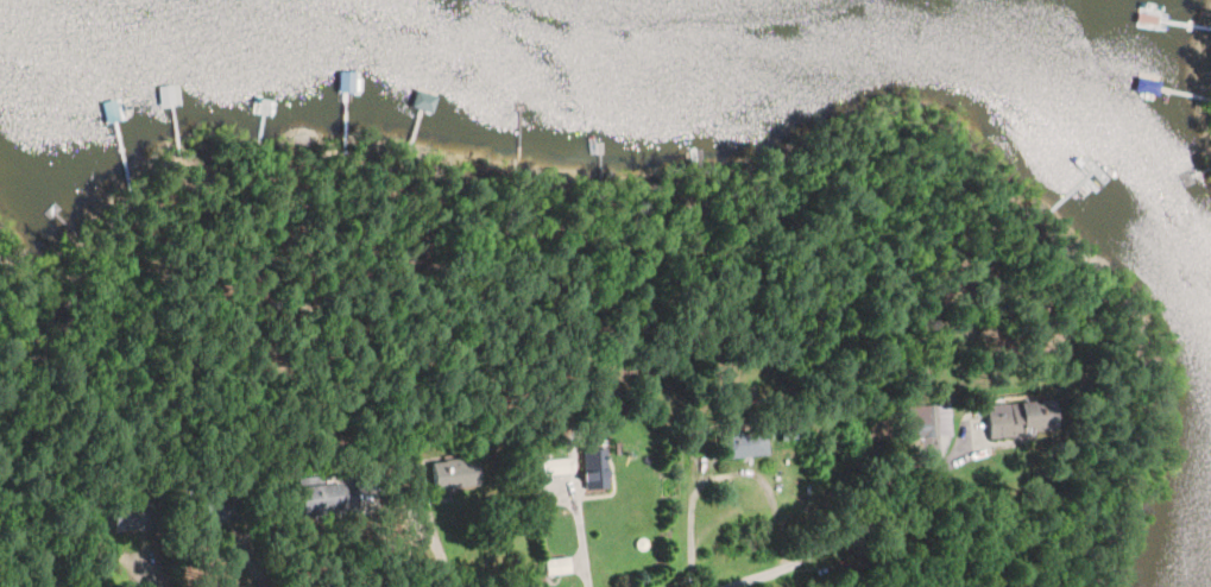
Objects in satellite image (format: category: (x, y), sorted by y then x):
building: (362, 89)
building: (1030, 419)
building: (932, 425)
building: (746, 443)
building: (559, 467)
building: (597, 469)
road: (726, 473)
building: (455, 474)
road: (923, 492)
building: (323, 493)
building: (111, 512)
road: (587, 534)
road: (435, 549)
road: (799, 566)
building: (561, 568)

